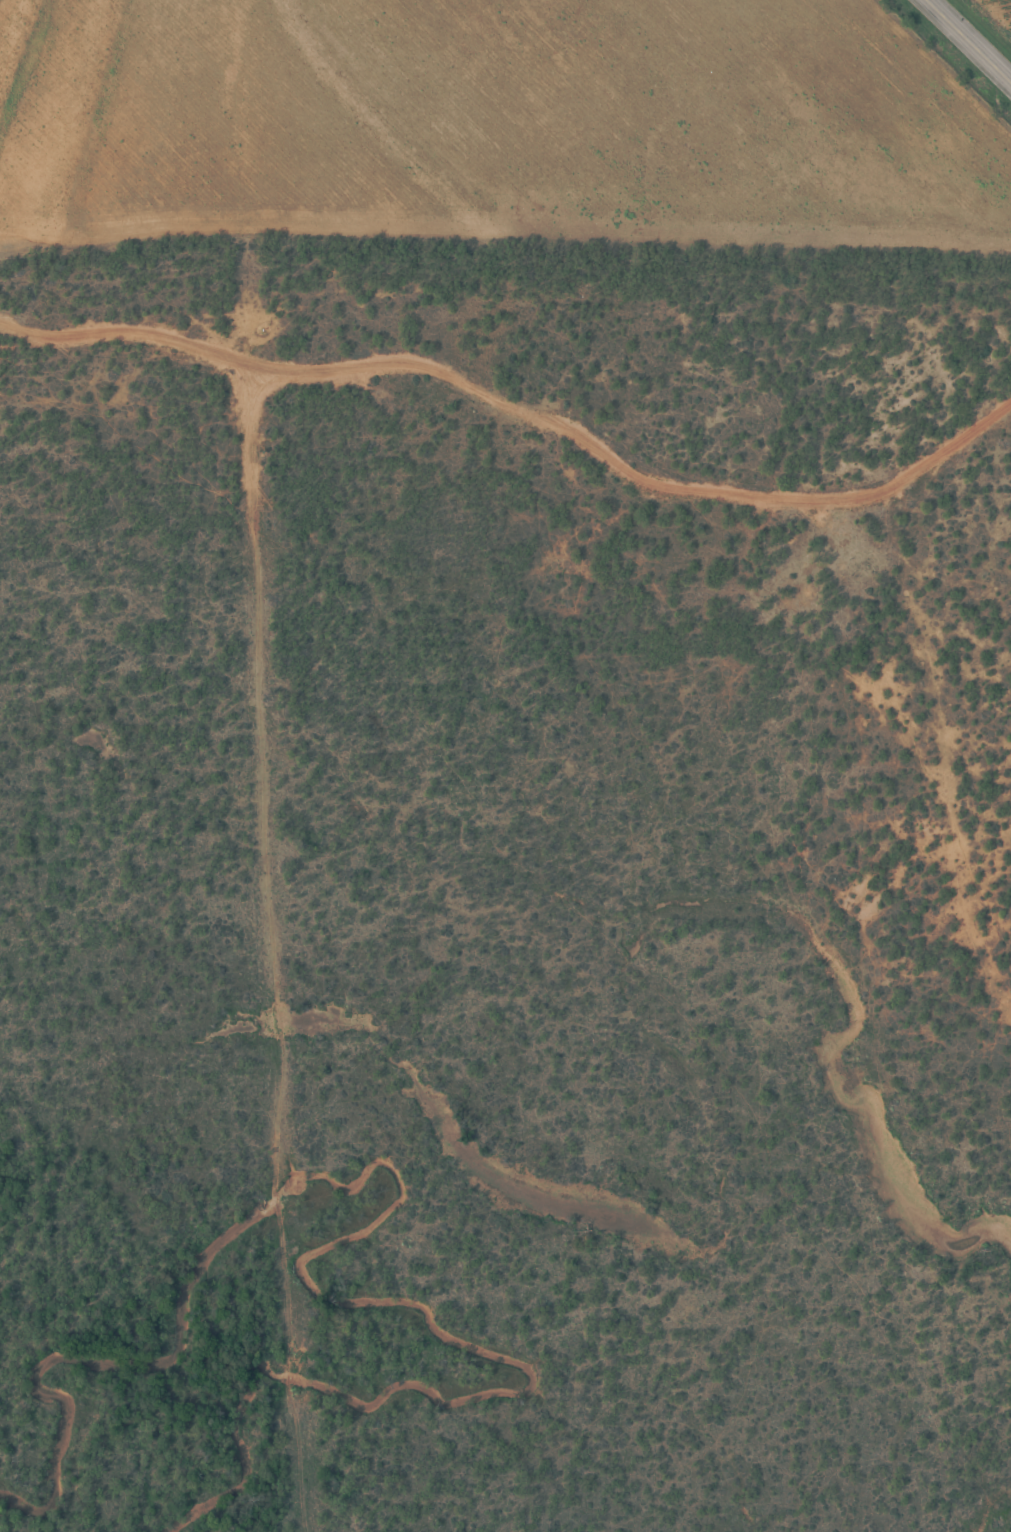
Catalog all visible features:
road: (970, 39)
road: (512, 412)

